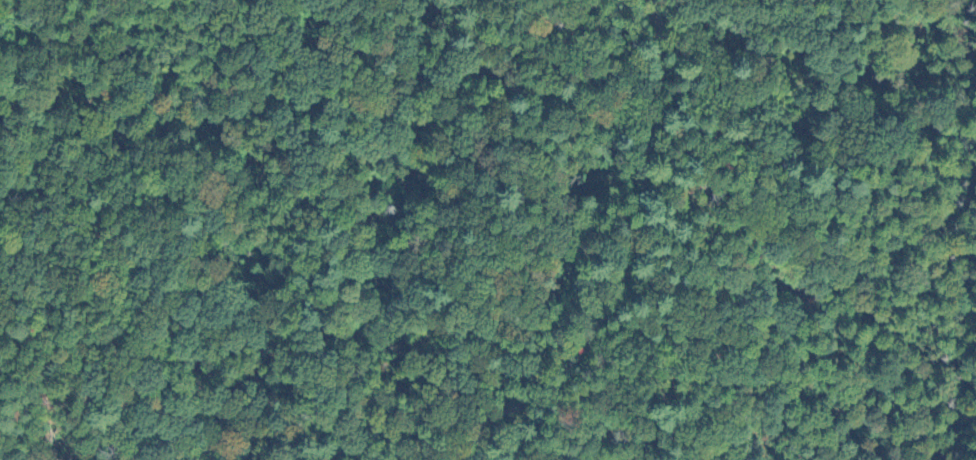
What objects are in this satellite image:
road: (629, 265)

